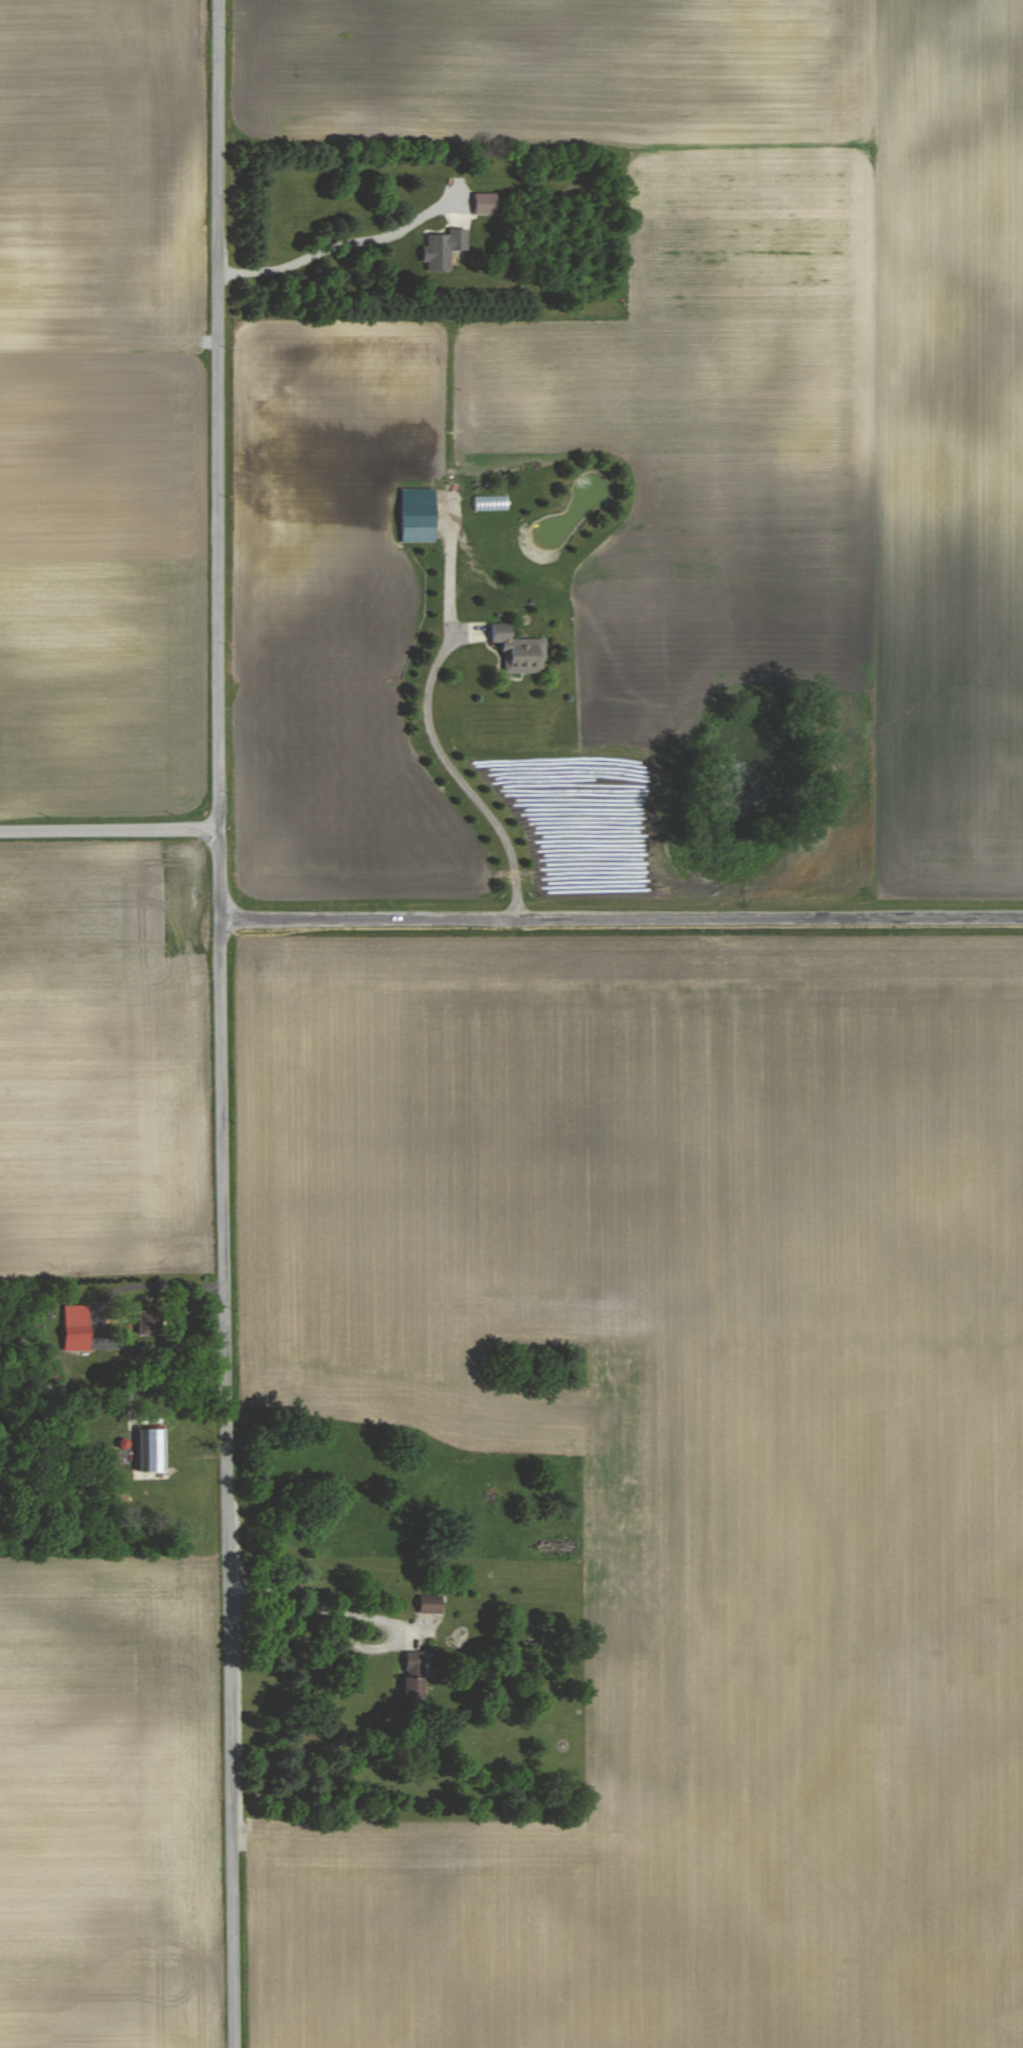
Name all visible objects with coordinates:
building: (486, 202)
road: (342, 234)
building: (442, 247)
building: (376, 381)
building: (415, 513)
building: (518, 653)
road: (465, 768)
road: (109, 829)
road: (621, 920)
road: (221, 1024)
road: (103, 1316)
building: (76, 1327)
building: (150, 1450)
road: (302, 1584)
building: (427, 1603)
building: (411, 1676)

